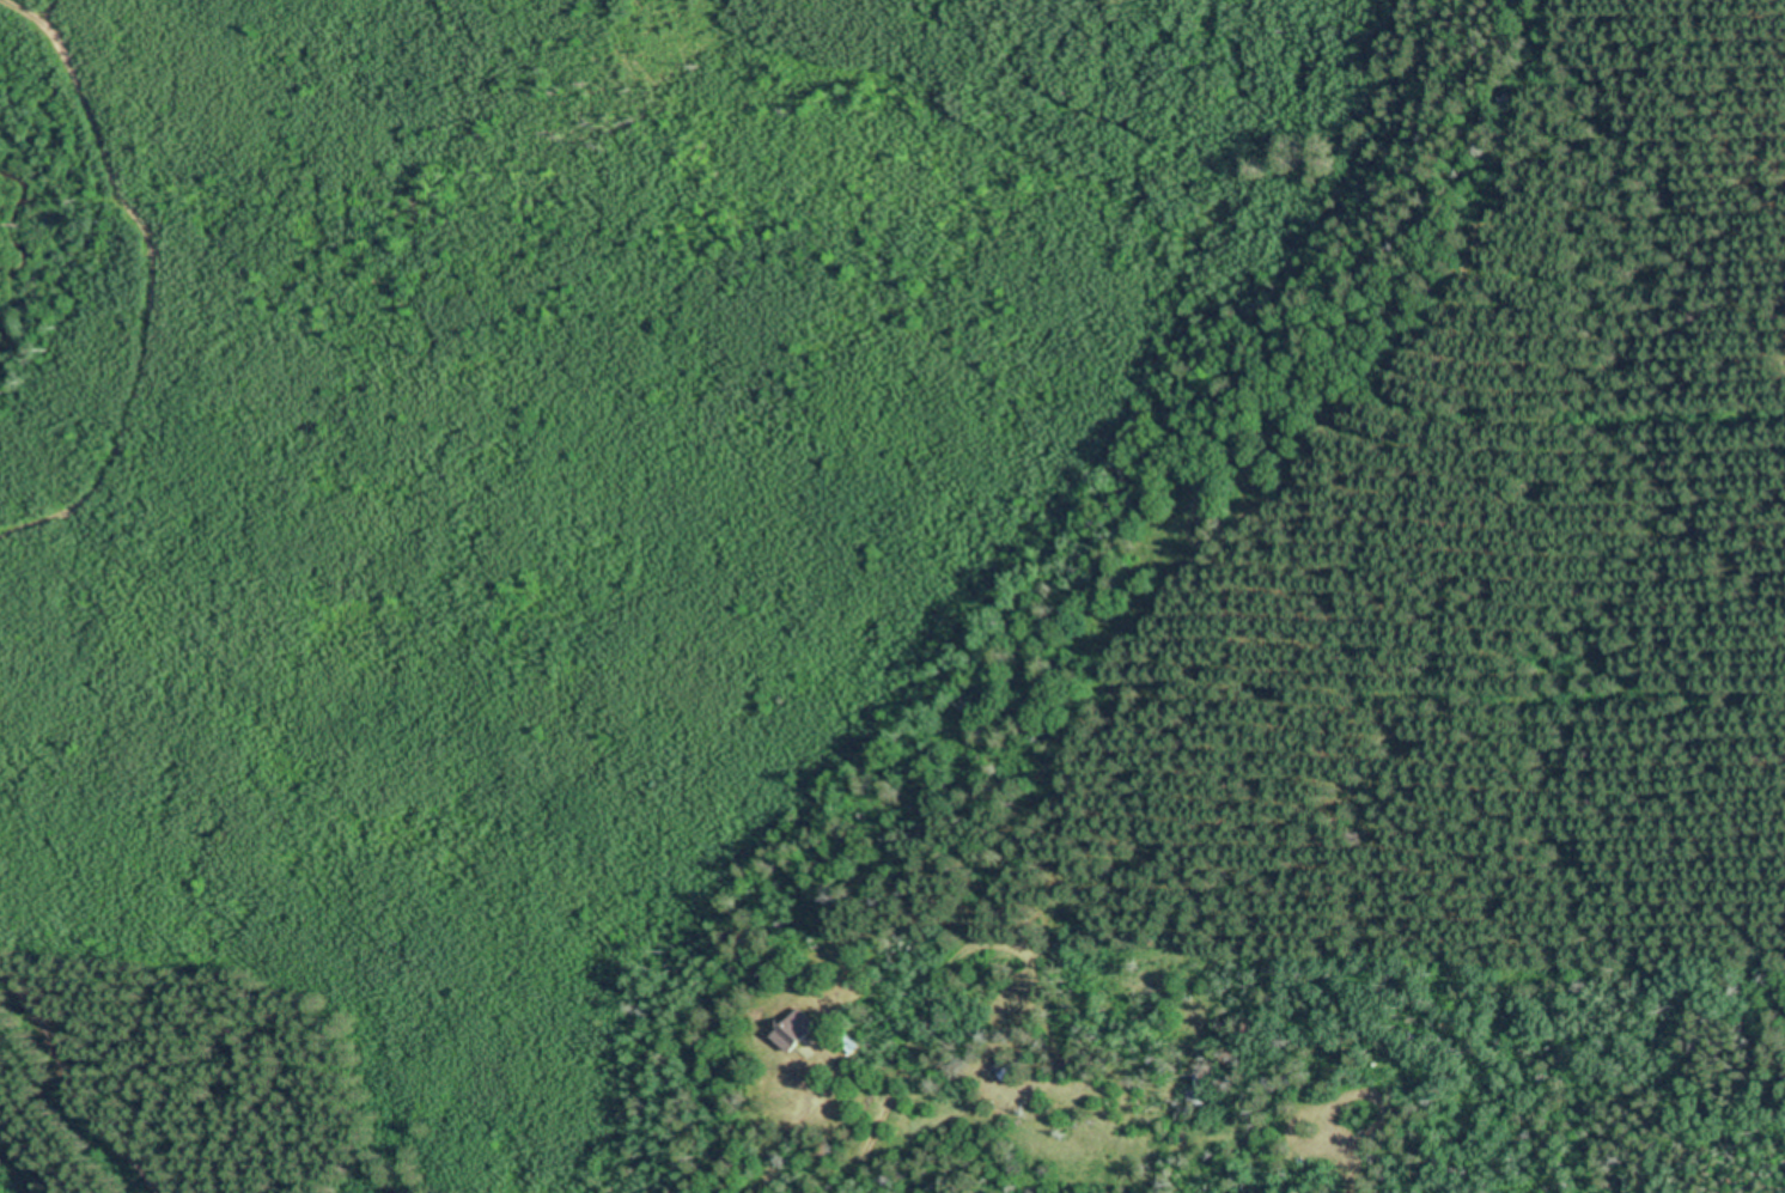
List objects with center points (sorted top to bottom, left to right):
road: (156, 287)
building: (803, 1031)
road: (74, 1082)

